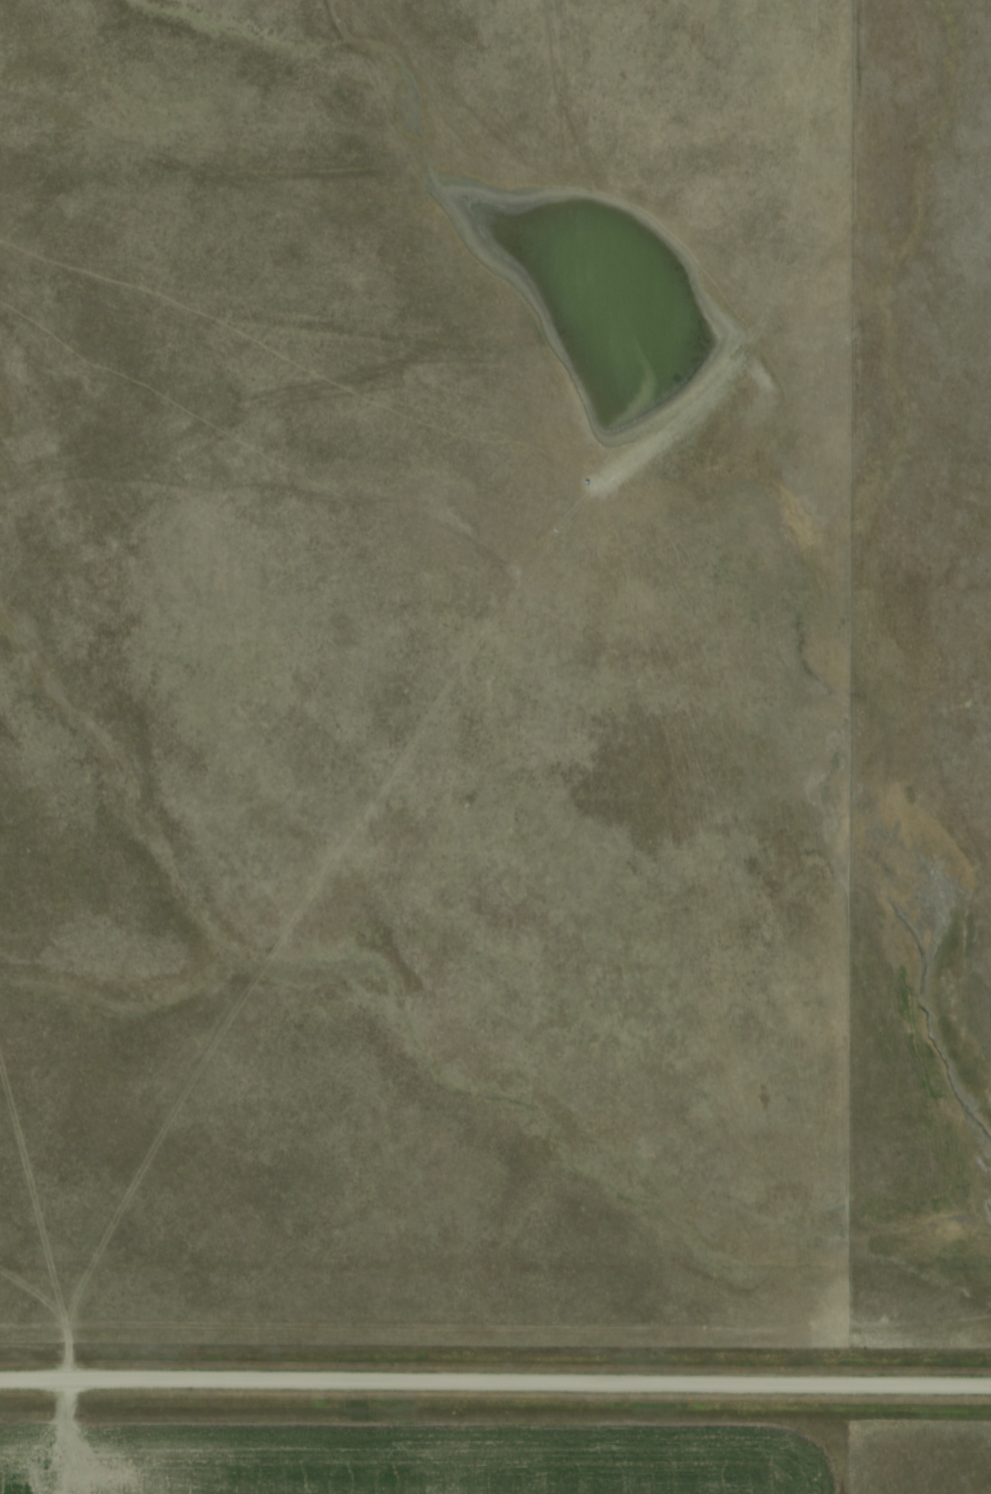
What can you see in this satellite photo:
dam: (667, 411)
road: (495, 1387)

